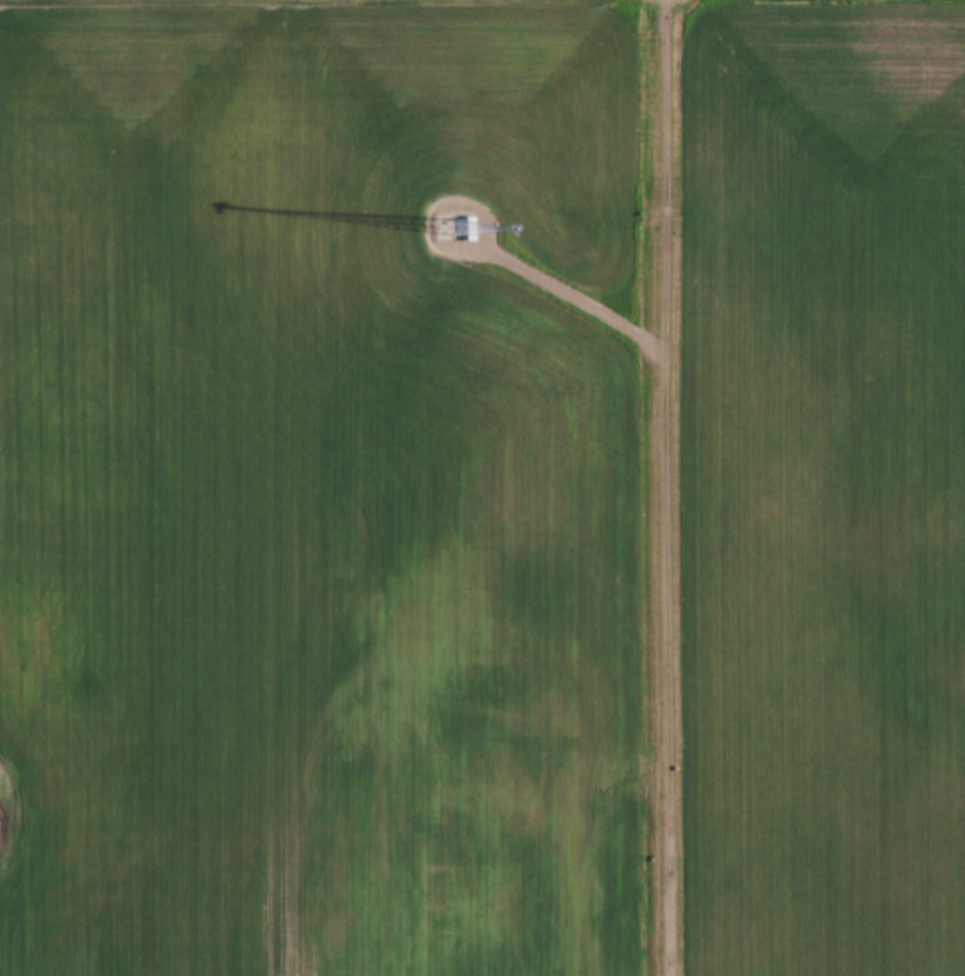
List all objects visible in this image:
building: (468, 213)
road: (670, 488)

